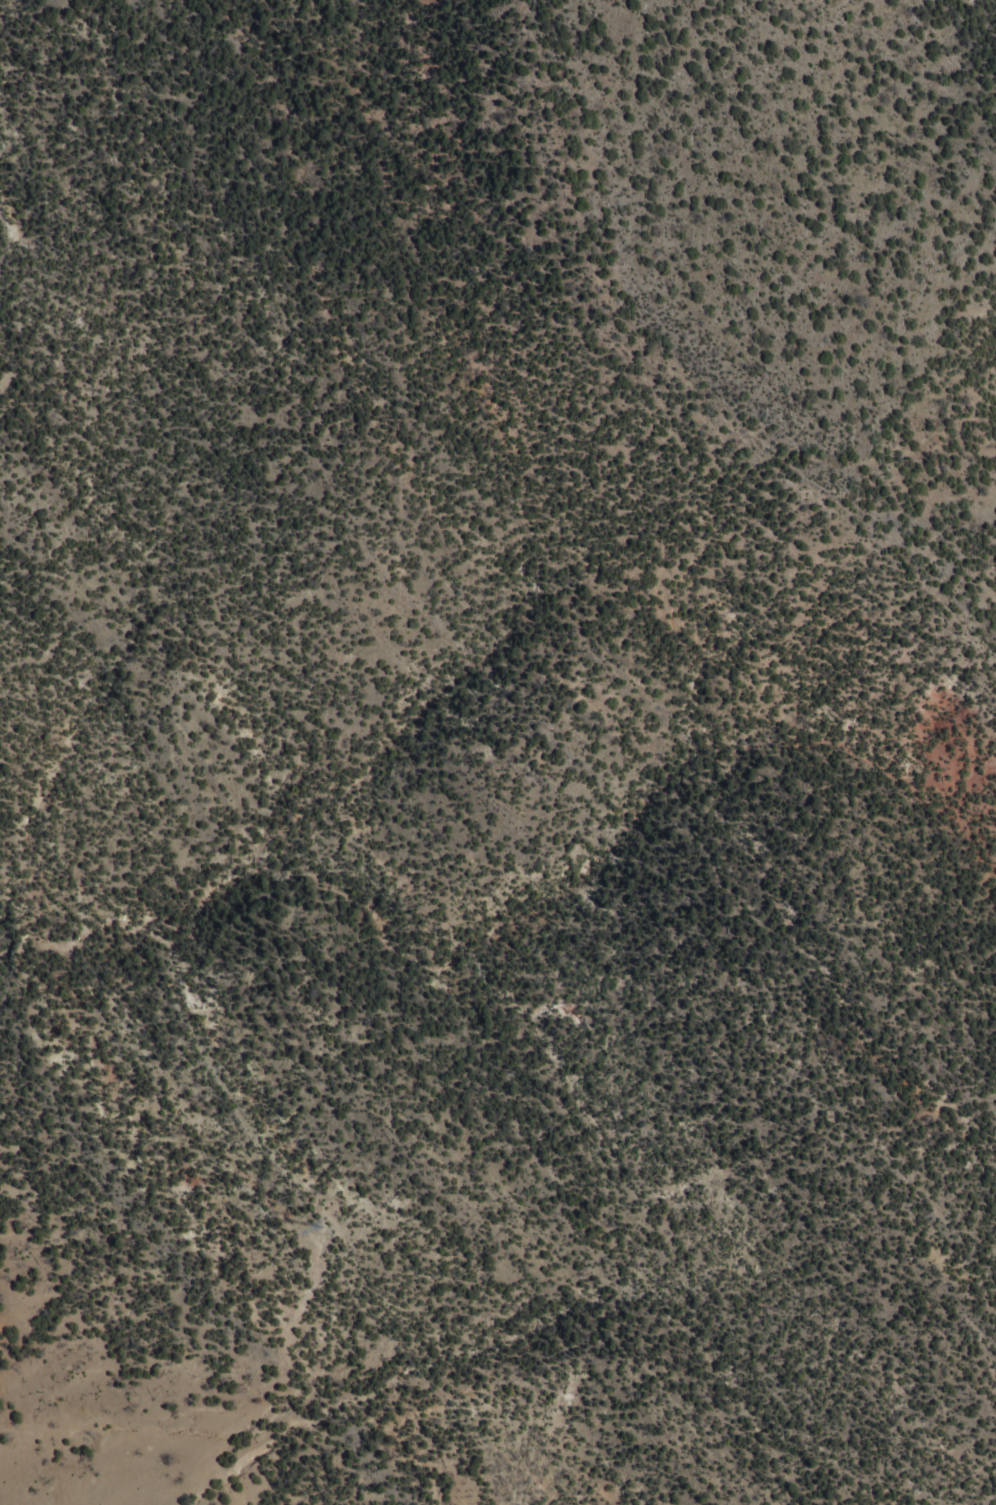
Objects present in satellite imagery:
power tower: (322, 1227)

